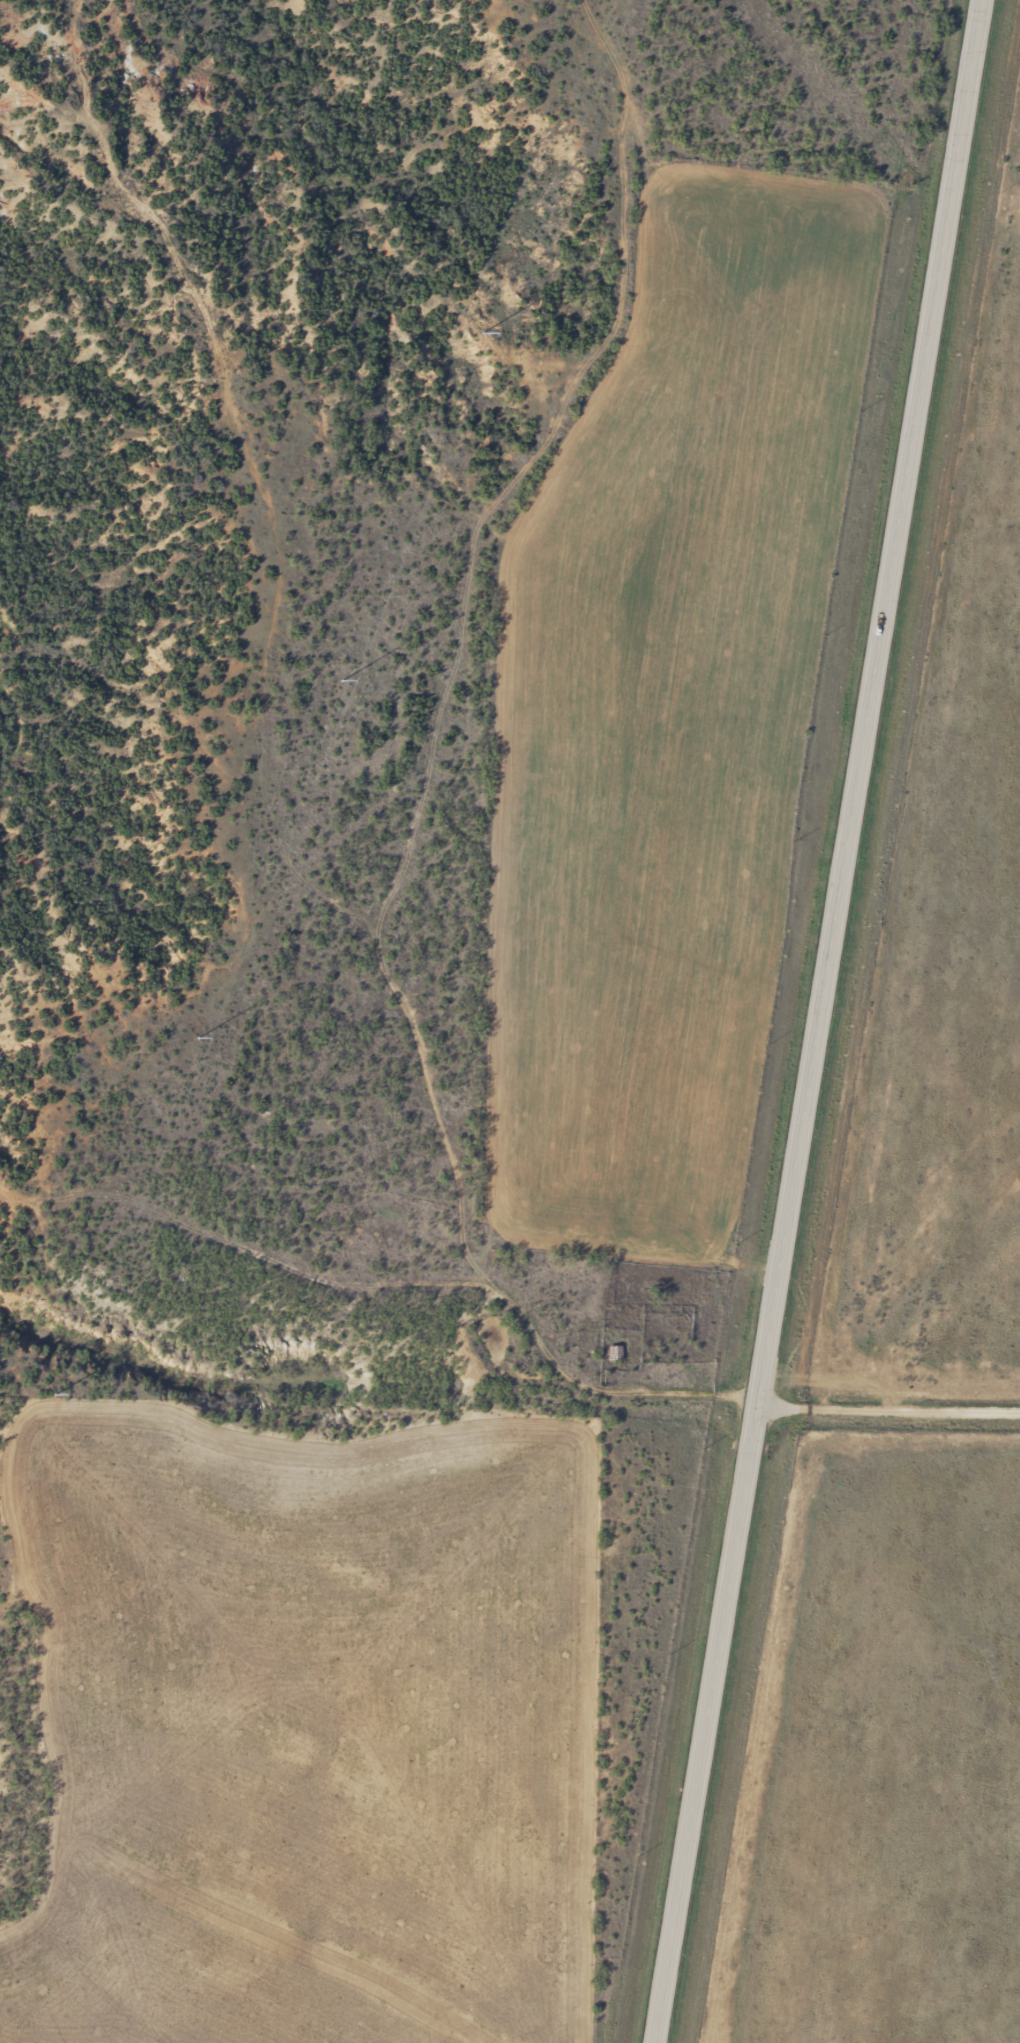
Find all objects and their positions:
power tower: (480, 337)
power tower: (340, 685)
road: (820, 1021)
power tower: (200, 1032)
building: (612, 1353)
road: (571, 1387)
power tower: (56, 1391)
road: (887, 1413)

